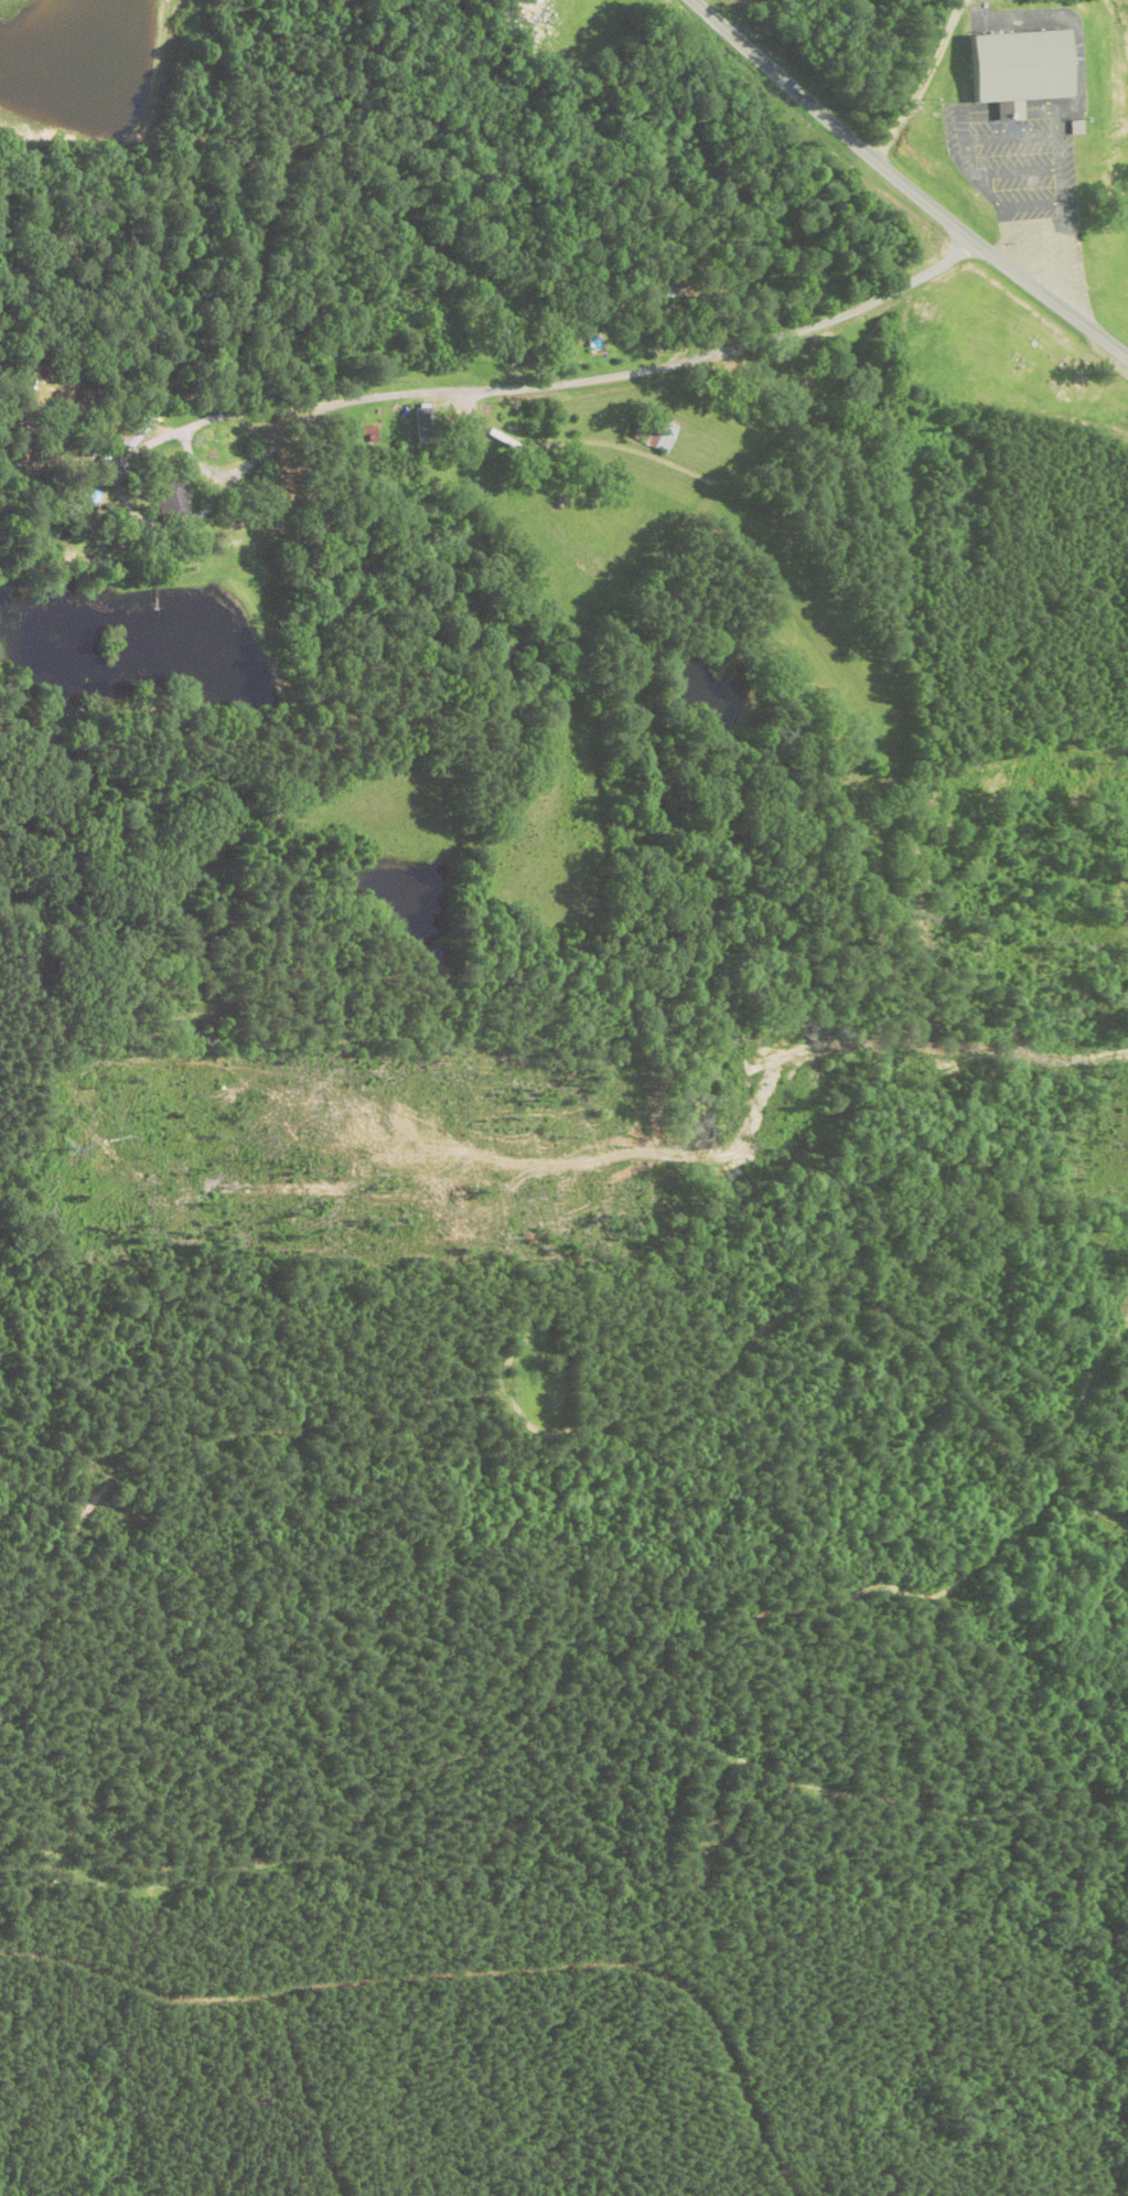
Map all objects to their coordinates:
building: (536, 1)
building: (1023, 66)
building: (1021, 163)
road: (904, 183)
building: (1089, 185)
road: (592, 376)
building: (427, 424)
building: (138, 427)
building: (664, 437)
building: (174, 501)
road: (434, 1991)

